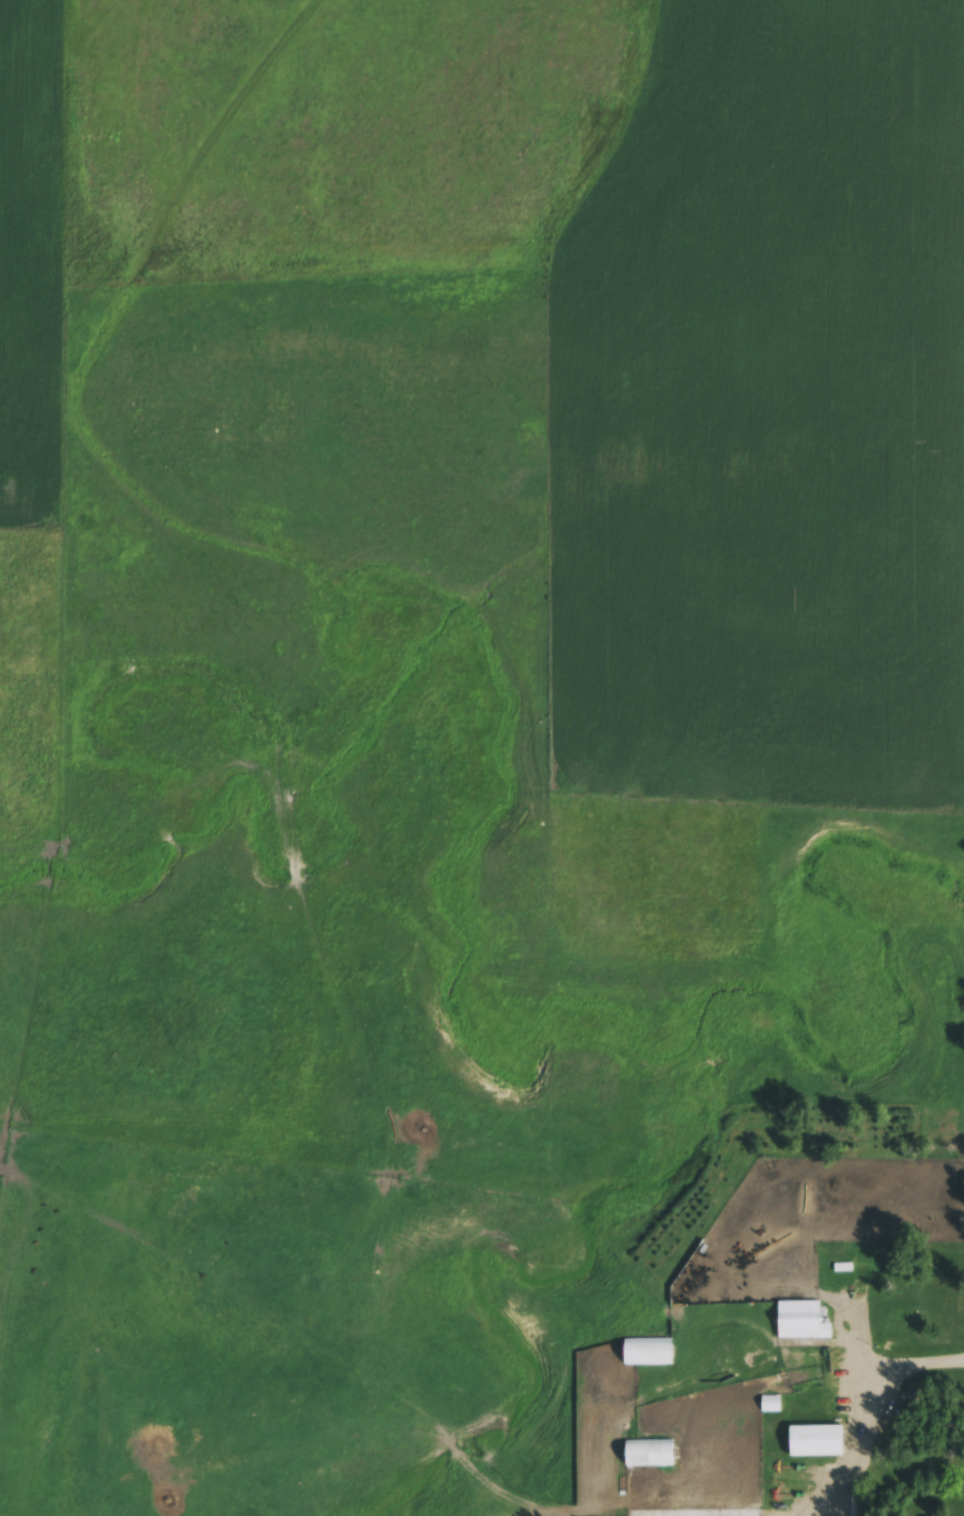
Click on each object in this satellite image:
building: (802, 1322)
building: (648, 1353)
road: (865, 1396)
building: (913, 1402)
building: (771, 1405)
building: (816, 1442)
building: (650, 1454)

